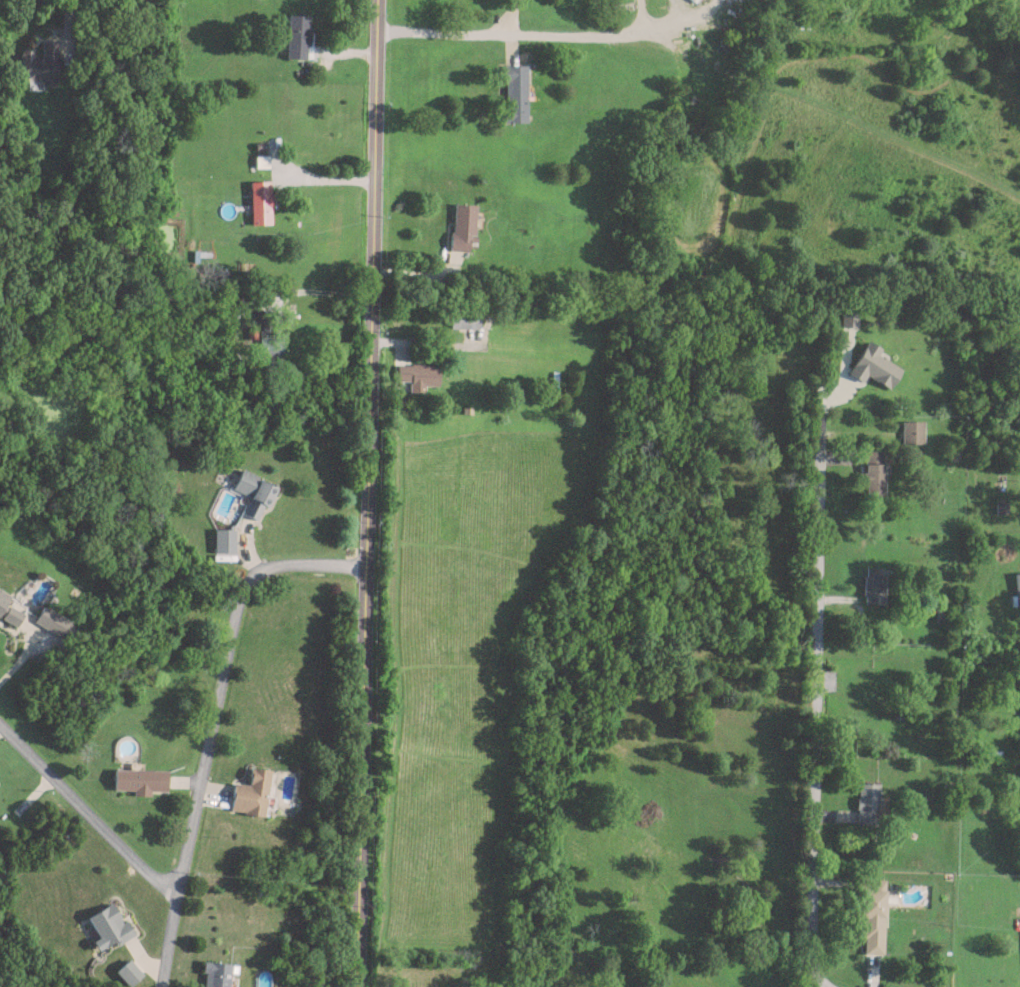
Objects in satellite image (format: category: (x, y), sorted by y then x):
road: (645, 13)
road: (659, 22)
road: (492, 32)
building: (299, 36)
building: (701, 38)
building: (43, 64)
building: (517, 93)
building: (261, 200)
building: (465, 225)
road: (316, 296)
building: (465, 316)
building: (894, 323)
building: (271, 341)
building: (419, 371)
building: (913, 430)
building: (876, 470)
building: (255, 491)
road: (366, 493)
building: (225, 539)
building: (875, 584)
building: (1017, 587)
building: (3, 598)
building: (13, 613)
building: (55, 621)
road: (27, 659)
building: (866, 692)
road: (816, 693)
road: (211, 722)
building: (141, 778)
building: (251, 791)
building: (868, 801)
road: (84, 811)
building: (873, 920)
building: (111, 924)
building: (130, 972)
building: (217, 974)

